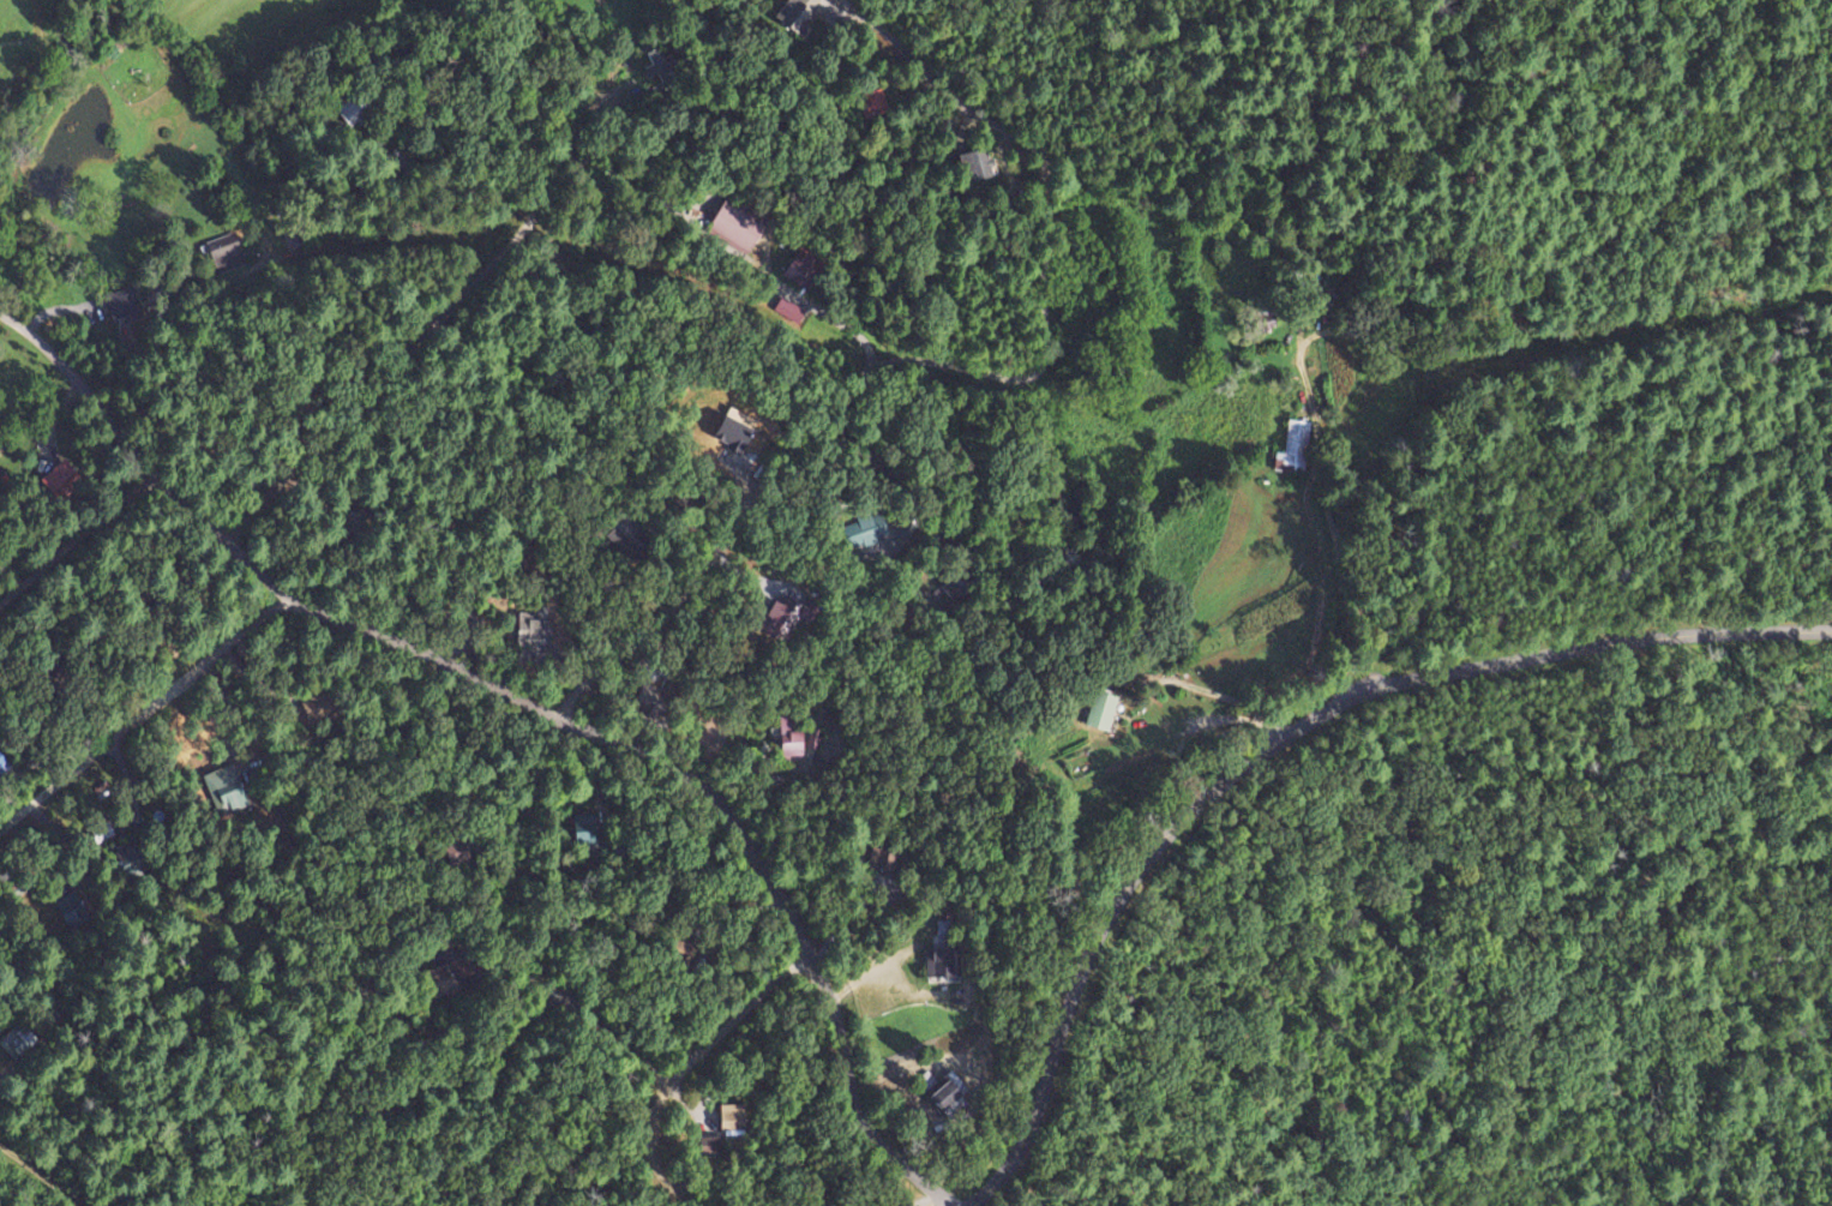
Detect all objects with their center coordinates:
building: (793, 14)
building: (655, 65)
building: (870, 101)
building: (973, 166)
building: (732, 226)
building: (223, 253)
road: (234, 264)
building: (795, 270)
road: (962, 374)
building: (1293, 446)
building: (348, 521)
road: (73, 535)
building: (623, 536)
road: (1801, 576)
building: (779, 618)
building: (530, 631)
road: (546, 702)
building: (650, 703)
building: (1100, 710)
road: (140, 712)
building: (780, 736)
road: (1275, 739)
road: (843, 757)
building: (125, 860)
building: (879, 862)
building: (941, 952)
road: (577, 1001)
building: (18, 1043)
road: (683, 1063)
building: (944, 1094)
building: (727, 1118)
road: (36, 1171)

